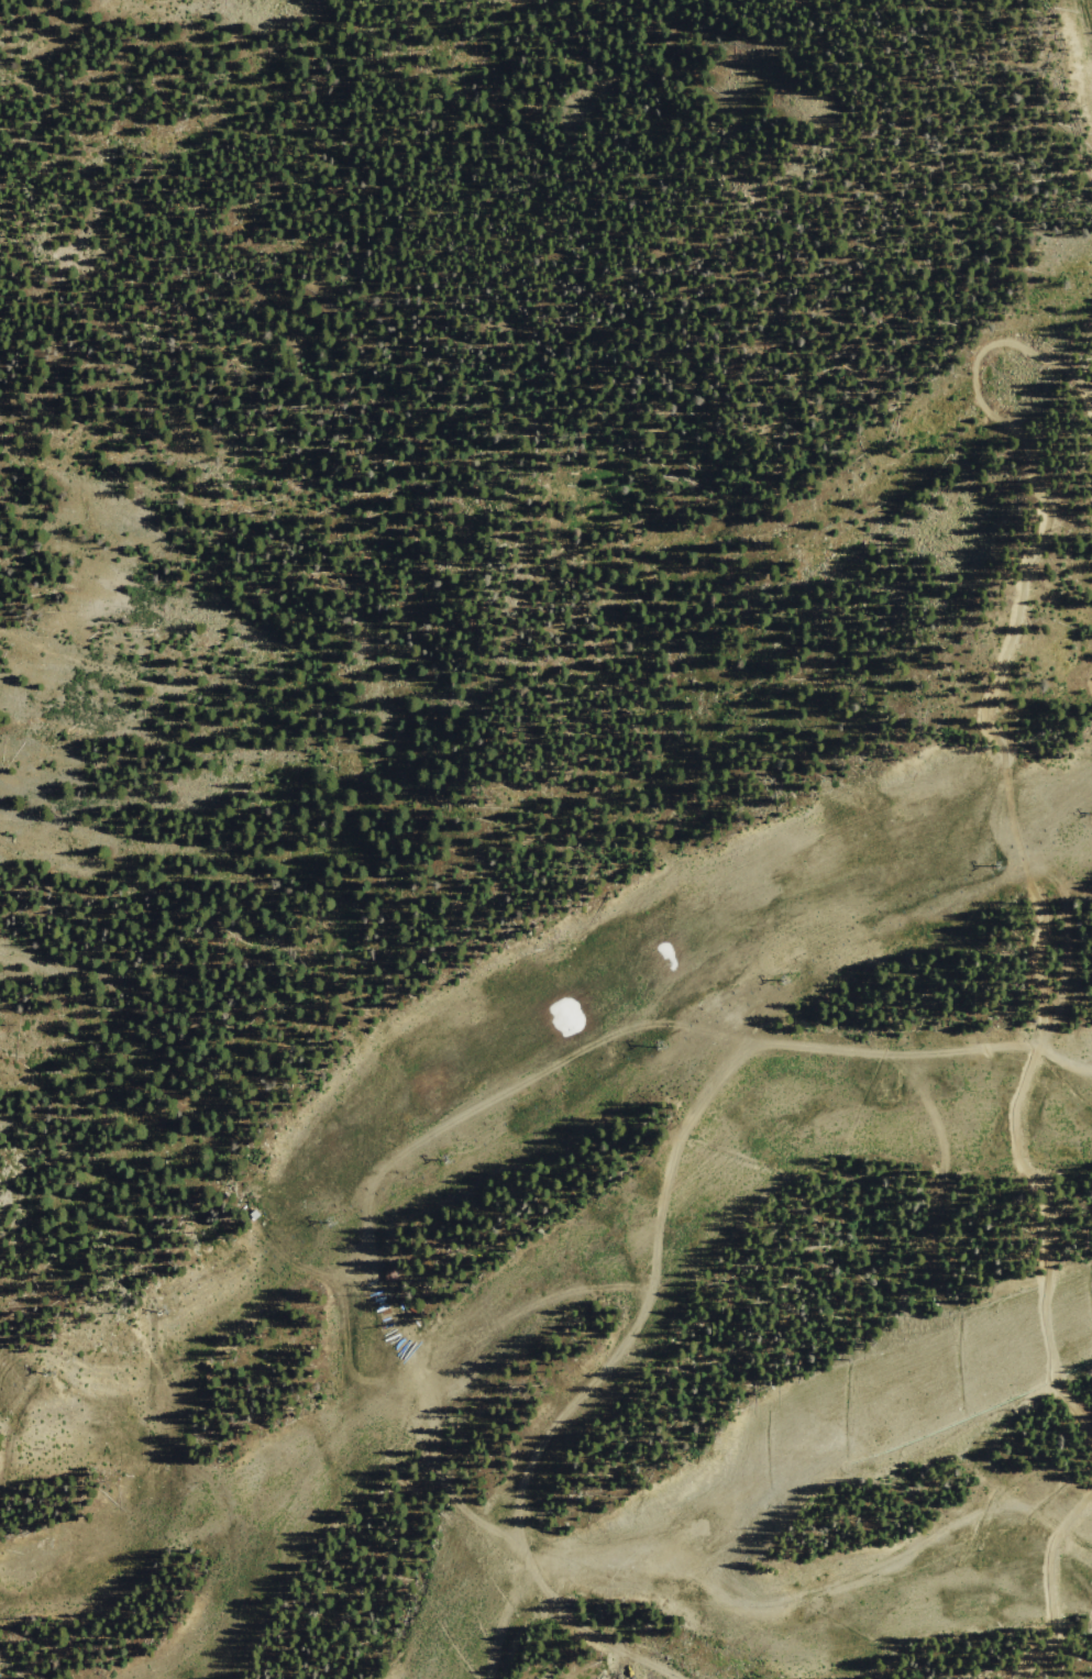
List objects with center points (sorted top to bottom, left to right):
road: (1021, 442)
road: (582, 618)
road: (1073, 708)
ski resort: (545, 839)
aerialway pylon: (996, 865)
road: (529, 871)
aerialway pylon: (781, 980)
road: (548, 1016)
aerialway pylon: (658, 1045)
road: (1028, 1075)
aerialway pylon: (442, 1159)
aerialway pylon: (324, 1220)
road: (889, 1231)
road: (666, 1251)
aerialway pylon: (158, 1308)
aerialway pylon: (41, 1371)
road: (1050, 1572)

